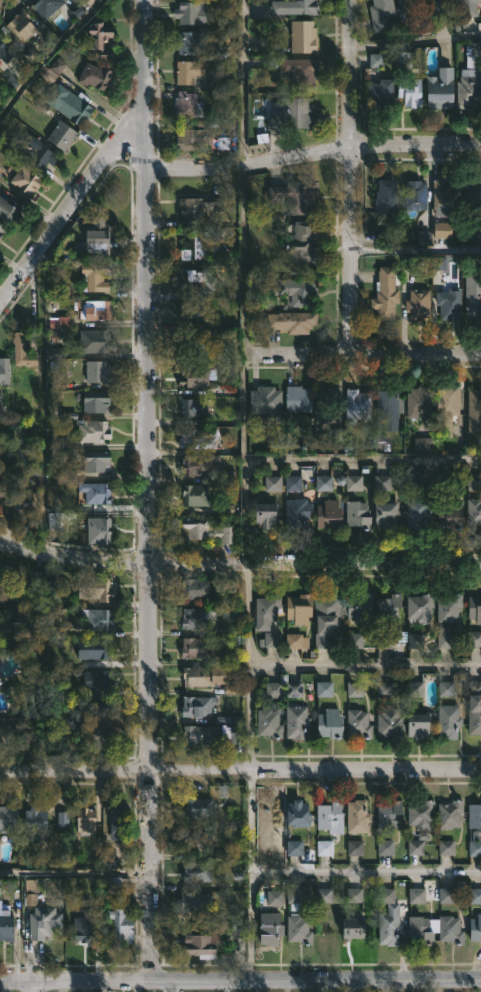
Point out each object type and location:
building: (85, 3)
building: (409, 5)
building: (44, 6)
building: (303, 7)
building: (436, 7)
building: (467, 8)
building: (189, 13)
building: (380, 14)
building: (19, 28)
building: (302, 38)
building: (99, 39)
building: (187, 43)
road: (415, 44)
building: (4, 51)
road: (46, 54)
road: (143, 56)
building: (59, 67)
building: (299, 72)
building: (187, 73)
road: (350, 75)
building: (93, 76)
building: (439, 88)
building: (468, 88)
building: (408, 92)
building: (380, 93)
building: (65, 104)
building: (186, 106)
building: (290, 115)
building: (59, 134)
building: (191, 139)
road: (313, 157)
building: (41, 159)
building: (24, 178)
building: (293, 194)
building: (414, 194)
building: (445, 195)
building: (473, 195)
building: (385, 196)
road: (68, 203)
building: (197, 207)
building: (7, 210)
building: (2, 227)
building: (444, 232)
building: (93, 238)
building: (196, 243)
building: (300, 248)
road: (415, 249)
road: (349, 251)
building: (93, 276)
building: (194, 279)
building: (295, 288)
building: (385, 293)
building: (472, 294)
building: (449, 302)
building: (418, 303)
building: (192, 308)
building: (96, 311)
building: (291, 321)
building: (94, 341)
building: (17, 347)
building: (192, 348)
road: (363, 352)
building: (4, 370)
building: (96, 371)
building: (194, 376)
building: (327, 396)
building: (297, 398)
building: (94, 400)
building: (265, 400)
building: (415, 400)
building: (357, 404)
building: (193, 407)
building: (444, 408)
building: (474, 408)
building: (387, 409)
building: (91, 430)
building: (198, 437)
building: (94, 461)
road: (363, 461)
building: (197, 463)
building: (294, 484)
building: (383, 484)
building: (475, 484)
road: (244, 490)
building: (94, 491)
building: (1, 492)
building: (194, 494)
building: (21, 496)
building: (296, 511)
building: (473, 512)
building: (265, 513)
building: (328, 513)
building: (384, 513)
building: (449, 513)
building: (356, 514)
building: (416, 514)
building: (97, 529)
building: (207, 530)
road: (143, 546)
road: (239, 563)
building: (4, 575)
building: (98, 588)
building: (194, 588)
building: (371, 607)
building: (419, 607)
building: (298, 608)
building: (474, 608)
building: (265, 609)
building: (324, 617)
building: (446, 617)
building: (96, 618)
building: (194, 619)
building: (475, 639)
building: (272, 640)
building: (298, 643)
building: (195, 647)
building: (93, 648)
road: (364, 668)
building: (198, 676)
building: (91, 677)
building: (196, 706)
building: (474, 708)
building: (388, 719)
building: (447, 721)
building: (98, 722)
building: (295, 722)
building: (357, 722)
building: (268, 723)
building: (329, 723)
building: (417, 725)
building: (89, 734)
building: (198, 736)
road: (240, 770)
building: (196, 808)
building: (296, 814)
building: (420, 814)
building: (449, 814)
building: (388, 815)
building: (356, 816)
building: (474, 816)
building: (329, 817)
building: (8, 820)
building: (84, 820)
building: (65, 821)
building: (117, 821)
building: (32, 822)
building: (197, 841)
building: (295, 849)
building: (325, 849)
building: (385, 849)
building: (416, 849)
building: (447, 849)
building: (475, 850)
building: (196, 872)
road: (366, 873)
road: (74, 875)
building: (116, 885)
building: (325, 896)
building: (355, 896)
building: (417, 897)
building: (447, 897)
building: (475, 897)
building: (294, 899)
building: (195, 902)
building: (387, 919)
building: (41, 921)
building: (5, 924)
building: (120, 925)
building: (475, 927)
building: (82, 928)
building: (352, 928)
building: (268, 929)
building: (297, 929)
building: (449, 930)
building: (420, 936)
building: (201, 945)
road: (240, 980)
road: (36, 986)

